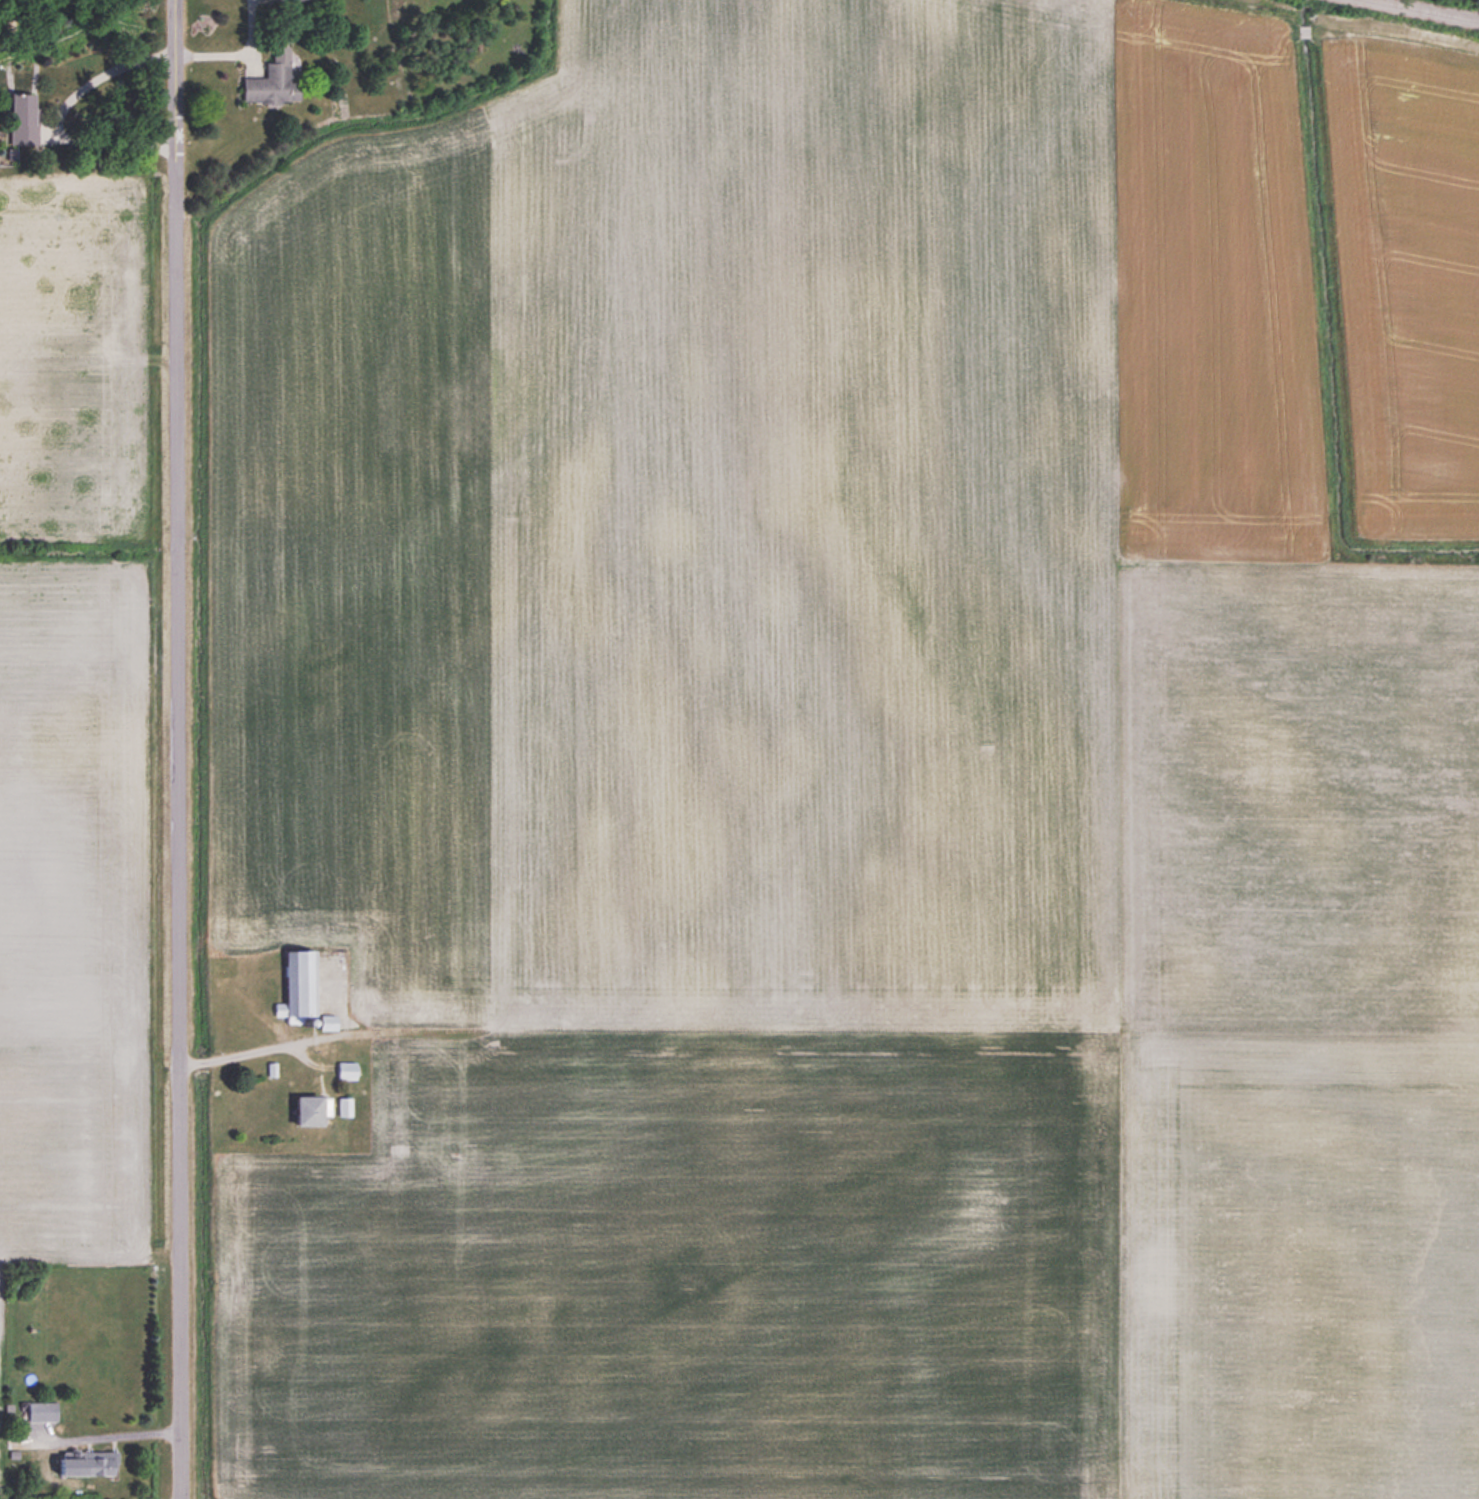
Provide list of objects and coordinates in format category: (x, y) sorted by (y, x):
railway: (1427, 9)
building: (271, 81)
road: (61, 117)
building: (21, 120)
road: (175, 749)
building: (297, 984)
building: (327, 1022)
building: (345, 1071)
building: (344, 1107)
building: (308, 1110)
building: (91, 1464)

